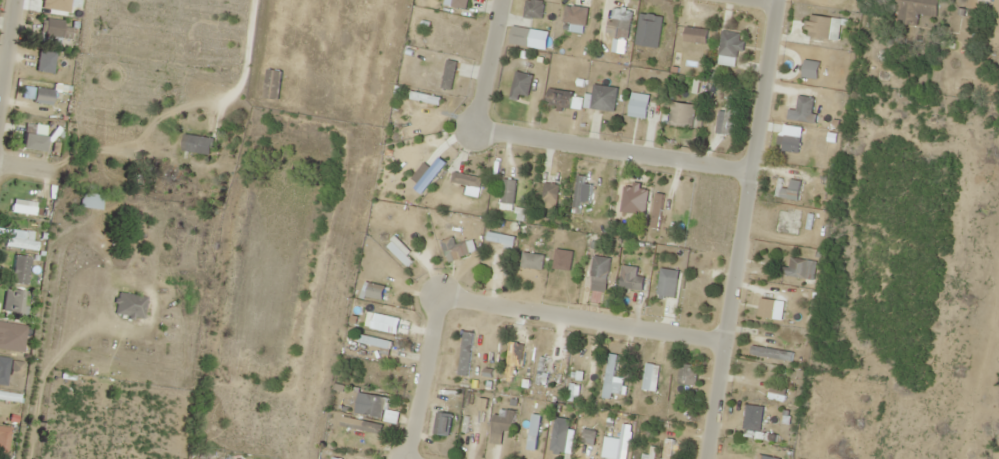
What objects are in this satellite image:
road: (769, 1)
building: (63, 3)
building: (460, 4)
building: (534, 9)
building: (915, 11)
building: (996, 23)
building: (621, 26)
building: (54, 30)
building: (696, 36)
building: (732, 45)
road: (7, 51)
road: (487, 65)
building: (42, 71)
building: (449, 75)
building: (521, 85)
building: (48, 93)
building: (560, 97)
building: (604, 98)
building: (426, 99)
building: (729, 116)
building: (680, 121)
building: (33, 137)
building: (197, 144)
building: (790, 144)
road: (611, 150)
road: (28, 168)
building: (427, 174)
building: (467, 180)
building: (508, 192)
building: (551, 192)
building: (620, 199)
building: (90, 200)
building: (23, 206)
building: (657, 210)
road: (740, 229)
building: (501, 241)
building: (21, 243)
building: (401, 252)
building: (533, 257)
building: (796, 268)
building: (19, 269)
building: (563, 269)
building: (598, 280)
building: (627, 282)
building: (375, 291)
building: (700, 294)
building: (15, 304)
building: (129, 304)
building: (777, 306)
road: (581, 315)
building: (385, 324)
building: (16, 338)
building: (375, 341)
building: (771, 353)
building: (16, 366)
building: (578, 366)
road: (423, 375)
building: (610, 376)
building: (651, 377)
building: (385, 381)
building: (767, 395)
building: (9, 396)
building: (373, 405)
building: (443, 423)
building: (503, 423)
building: (360, 428)
building: (759, 433)
building: (556, 445)
building: (668, 449)

